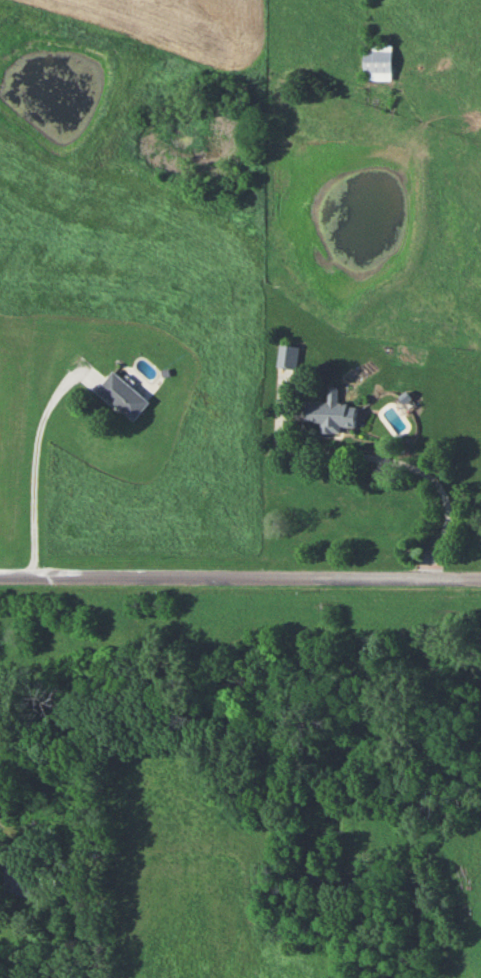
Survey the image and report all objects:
building: (376, 61)
building: (287, 356)
building: (121, 395)
building: (330, 413)
road: (397, 463)
road: (39, 469)
road: (240, 575)
building: (14, 877)

